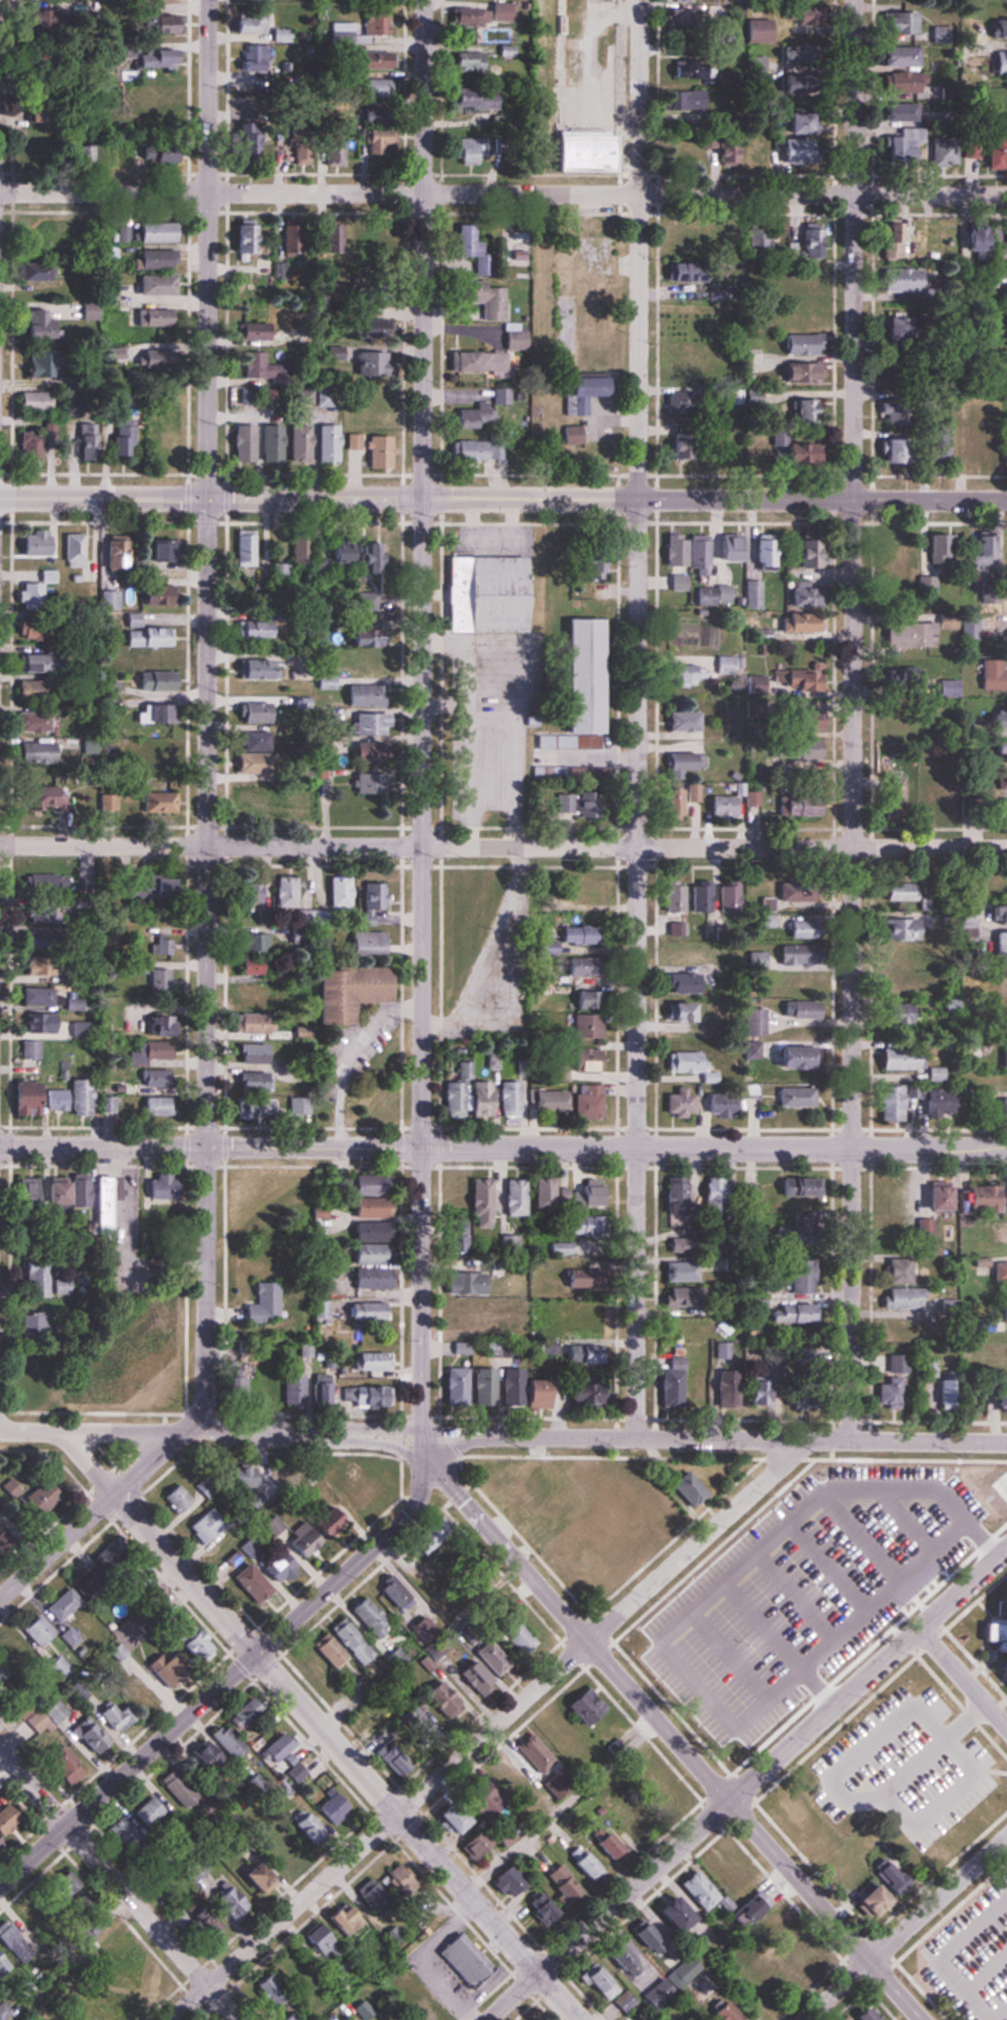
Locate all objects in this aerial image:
building: (500, 12)
building: (678, 13)
building: (799, 14)
building: (466, 16)
building: (256, 21)
building: (373, 22)
building: (895, 22)
building: (759, 29)
building: (341, 33)
building: (897, 55)
building: (257, 57)
building: (468, 61)
building: (998, 61)
building: (754, 64)
building: (691, 68)
building: (899, 81)
building: (372, 87)
building: (468, 97)
building: (682, 99)
building: (896, 109)
building: (794, 119)
building: (377, 138)
building: (244, 141)
building: (902, 145)
building: (754, 146)
building: (789, 148)
building: (994, 149)
building: (468, 150)
building: (583, 150)
building: (299, 151)
building: (332, 151)
building: (940, 152)
building: (725, 153)
building: (158, 154)
road: (503, 193)
building: (157, 232)
building: (1004, 232)
building: (366, 235)
building: (243, 236)
building: (754, 236)
building: (290, 237)
building: (331, 237)
building: (972, 239)
building: (888, 241)
building: (807, 243)
building: (470, 247)
road: (422, 249)
building: (113, 251)
building: (157, 259)
building: (998, 260)
building: (41, 271)
building: (681, 271)
building: (898, 280)
building: (159, 285)
building: (798, 286)
building: (1002, 291)
building: (480, 297)
building: (92, 310)
building: (799, 315)
building: (155, 317)
building: (894, 324)
building: (49, 329)
building: (366, 330)
building: (1002, 330)
building: (252, 331)
building: (511, 336)
building: (799, 344)
building: (332, 353)
building: (478, 361)
building: (680, 361)
building: (370, 362)
building: (46, 364)
building: (895, 365)
building: (257, 366)
building: (797, 371)
building: (1001, 375)
building: (578, 391)
building: (748, 396)
building: (732, 397)
building: (254, 398)
building: (372, 400)
building: (676, 403)
building: (154, 410)
building: (801, 412)
building: (469, 418)
building: (571, 434)
building: (934, 440)
building: (161, 442)
building: (240, 442)
building: (970, 442)
building: (268, 443)
building: (296, 443)
building: (324, 443)
building: (679, 445)
building: (41, 448)
building: (893, 448)
building: (99, 449)
building: (465, 449)
building: (375, 451)
building: (724, 451)
building: (795, 452)
building: (1004, 459)
road: (211, 496)
road: (714, 499)
building: (42, 543)
building: (726, 547)
building: (940, 547)
building: (77, 549)
building: (171, 549)
building: (301, 549)
building: (671, 550)
building: (763, 550)
building: (123, 551)
building: (891, 551)
building: (804, 552)
building: (978, 553)
building: (331, 557)
building: (366, 557)
building: (696, 557)
building: (587, 566)
road: (207, 573)
building: (906, 582)
building: (675, 583)
building: (485, 594)
building: (801, 594)
building: (167, 595)
building: (702, 597)
building: (364, 602)
building: (1005, 602)
building: (799, 624)
building: (262, 628)
building: (906, 634)
building: (967, 635)
building: (154, 637)
building: (360, 639)
building: (1006, 642)
building: (365, 661)
building: (43, 663)
building: (725, 665)
building: (264, 668)
building: (908, 675)
building: (579, 676)
building: (682, 676)
building: (992, 676)
building: (329, 682)
building: (946, 687)
building: (752, 690)
building: (30, 692)
building: (366, 695)
building: (262, 712)
road: (639, 719)
road: (853, 720)
building: (39, 721)
building: (682, 721)
building: (997, 722)
building: (370, 723)
building: (792, 724)
building: (793, 749)
building: (998, 750)
building: (262, 751)
building: (44, 753)
building: (168, 754)
building: (931, 764)
building: (675, 765)
building: (1001, 780)
building: (691, 792)
building: (942, 792)
building: (889, 794)
building: (55, 798)
building: (262, 798)
building: (750, 799)
building: (167, 801)
building: (304, 802)
building: (564, 804)
building: (669, 804)
building: (799, 805)
building: (719, 806)
building: (999, 808)
road: (426, 847)
road: (930, 848)
building: (168, 886)
building: (1000, 886)
building: (290, 891)
building: (345, 891)
building: (895, 891)
building: (257, 892)
building: (375, 895)
building: (792, 895)
building: (669, 896)
building: (697, 896)
building: (724, 896)
building: (997, 914)
building: (965, 917)
building: (797, 928)
building: (674, 929)
building: (896, 929)
building: (574, 935)
building: (263, 941)
building: (376, 941)
building: (999, 943)
building: (165, 946)
building: (681, 954)
building: (793, 954)
building: (892, 958)
building: (753, 960)
building: (259, 965)
building: (578, 966)
road: (421, 968)
building: (1000, 979)
building: (680, 982)
building: (164, 983)
building: (895, 986)
building: (259, 993)
building: (41, 995)
building: (344, 996)
building: (585, 999)
building: (948, 1007)
building: (797, 1008)
building: (674, 1011)
building: (898, 1013)
building: (58, 1021)
building: (169, 1022)
building: (750, 1022)
building: (260, 1026)
building: (584, 1026)
building: (34, 1049)
building: (970, 1050)
building: (260, 1052)
building: (1002, 1057)
building: (785, 1058)
building: (896, 1059)
building: (583, 1060)
building: (681, 1061)
building: (933, 1074)
building: (162, 1078)
building: (258, 1081)
building: (1001, 1082)
building: (460, 1095)
building: (791, 1096)
building: (59, 1098)
building: (489, 1098)
building: (515, 1098)
building: (546, 1101)
building: (584, 1103)
building: (675, 1103)
building: (935, 1103)
building: (111, 1104)
building: (888, 1104)
building: (716, 1105)
building: (260, 1106)
building: (301, 1106)
building: (163, 1107)
building: (1000, 1111)
road: (103, 1147)
road: (606, 1148)
building: (796, 1186)
building: (76, 1191)
building: (458, 1191)
building: (590, 1192)
building: (746, 1192)
building: (1004, 1192)
building: (34, 1195)
building: (710, 1195)
building: (378, 1196)
building: (528, 1196)
building: (670, 1196)
building: (933, 1196)
building: (488, 1199)
building: (979, 1199)
building: (890, 1200)
building: (576, 1226)
building: (916, 1230)
building: (110, 1231)
building: (1001, 1235)
building: (378, 1244)
building: (676, 1246)
building: (563, 1249)
building: (679, 1271)
building: (895, 1271)
building: (998, 1271)
building: (380, 1278)
building: (798, 1278)
building: (40, 1279)
building: (572, 1281)
building: (472, 1284)
building: (65, 1286)
road: (206, 1295)
building: (680, 1297)
building: (899, 1298)
building: (323, 1311)
building: (372, 1311)
building: (1000, 1311)
building: (791, 1313)
building: (580, 1316)
building: (482, 1321)
building: (39, 1326)
building: (896, 1329)
building: (582, 1354)
building: (374, 1360)
building: (995, 1361)
building: (140, 1362)
building: (894, 1364)
building: (929, 1368)
building: (668, 1384)
building: (461, 1386)
building: (502, 1387)
building: (325, 1388)
building: (698, 1388)
building: (725, 1390)
building: (300, 1392)
building: (549, 1392)
building: (757, 1392)
building: (945, 1392)
building: (885, 1393)
building: (372, 1395)
building: (584, 1395)
building: (997, 1401)
road: (89, 1434)
road: (267, 1435)
road: (387, 1436)
road: (713, 1439)
road: (387, 1443)
road: (89, 1465)
building: (684, 1490)
building: (49, 1495)
building: (183, 1500)
building: (356, 1503)
road: (90, 1517)
building: (211, 1525)
building: (298, 1553)
building: (93, 1580)
building: (256, 1585)
building: (398, 1596)
building: (784, 1597)
building: (374, 1619)
building: (43, 1630)
building: (72, 1636)
building: (519, 1641)
building: (1005, 1641)
building: (356, 1642)
building: (202, 1649)
building: (439, 1649)
building: (334, 1651)
building: (20, 1653)
building: (492, 1667)
building: (176, 1668)
road: (233, 1673)
road: (963, 1678)
building: (151, 1696)
building: (448, 1697)
building: (254, 1710)
building: (121, 1716)
building: (420, 1723)
road: (489, 1730)
road: (671, 1735)
road: (877, 1735)
building: (232, 1741)
building: (283, 1745)
building: (538, 1754)
building: (211, 1755)
road: (347, 1756)
building: (400, 1761)
parking lot: (905, 1767)
road: (747, 1784)
building: (507, 1788)
building: (336, 1806)
building: (153, 1810)
building: (788, 1814)
building: (460, 1818)
building: (9, 1823)
building: (128, 1833)
building: (483, 1847)
building: (283, 1848)
building: (836, 1857)
building: (587, 1862)
building: (729, 1867)
building: (257, 1869)
building: (886, 1876)
building: (848, 1877)
building: (407, 1879)
building: (564, 1881)
building: (510, 1884)
road: (118, 1885)
building: (706, 1896)
building: (380, 1898)
building: (232, 1900)
building: (863, 1900)
building: (538, 1909)
building: (44, 1911)
building: (685, 1915)
building: (751, 1917)
building: (350, 1920)
building: (208, 1923)
road: (906, 1928)
building: (9, 1930)
building: (326, 1942)
building: (2, 1954)
road: (943, 1956)
parking lot: (972, 1958)
building: (299, 1967)
road: (986, 1970)
building: (677, 1982)
building: (606, 1983)
building: (276, 1991)
building: (151, 1994)
building: (125, 1999)
building: (309, 2012)
building: (734, 2013)
road: (1000, 2013)
building: (97, 2015)
building: (861, 2015)

